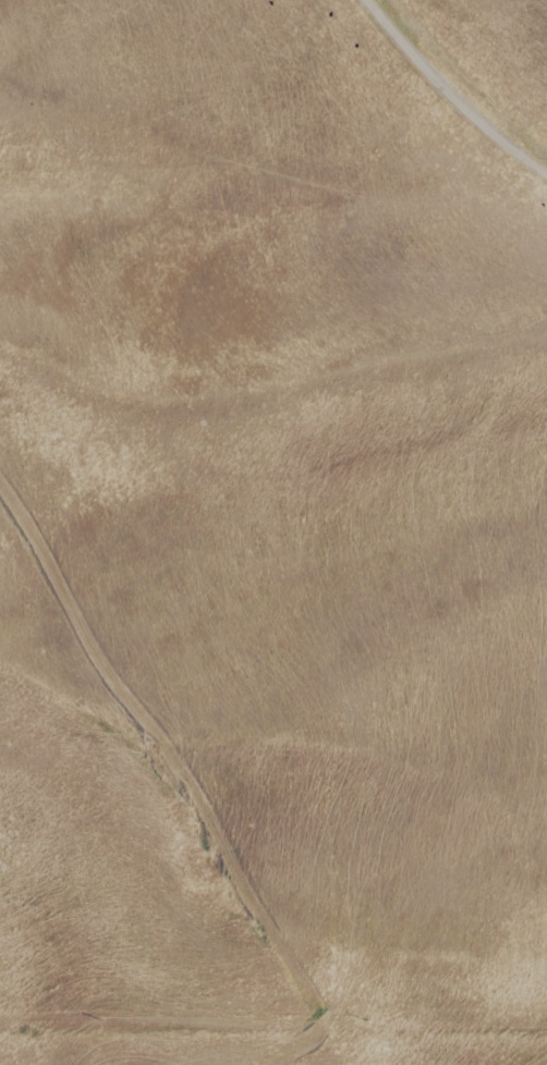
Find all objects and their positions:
road: (453, 94)
road: (180, 767)

